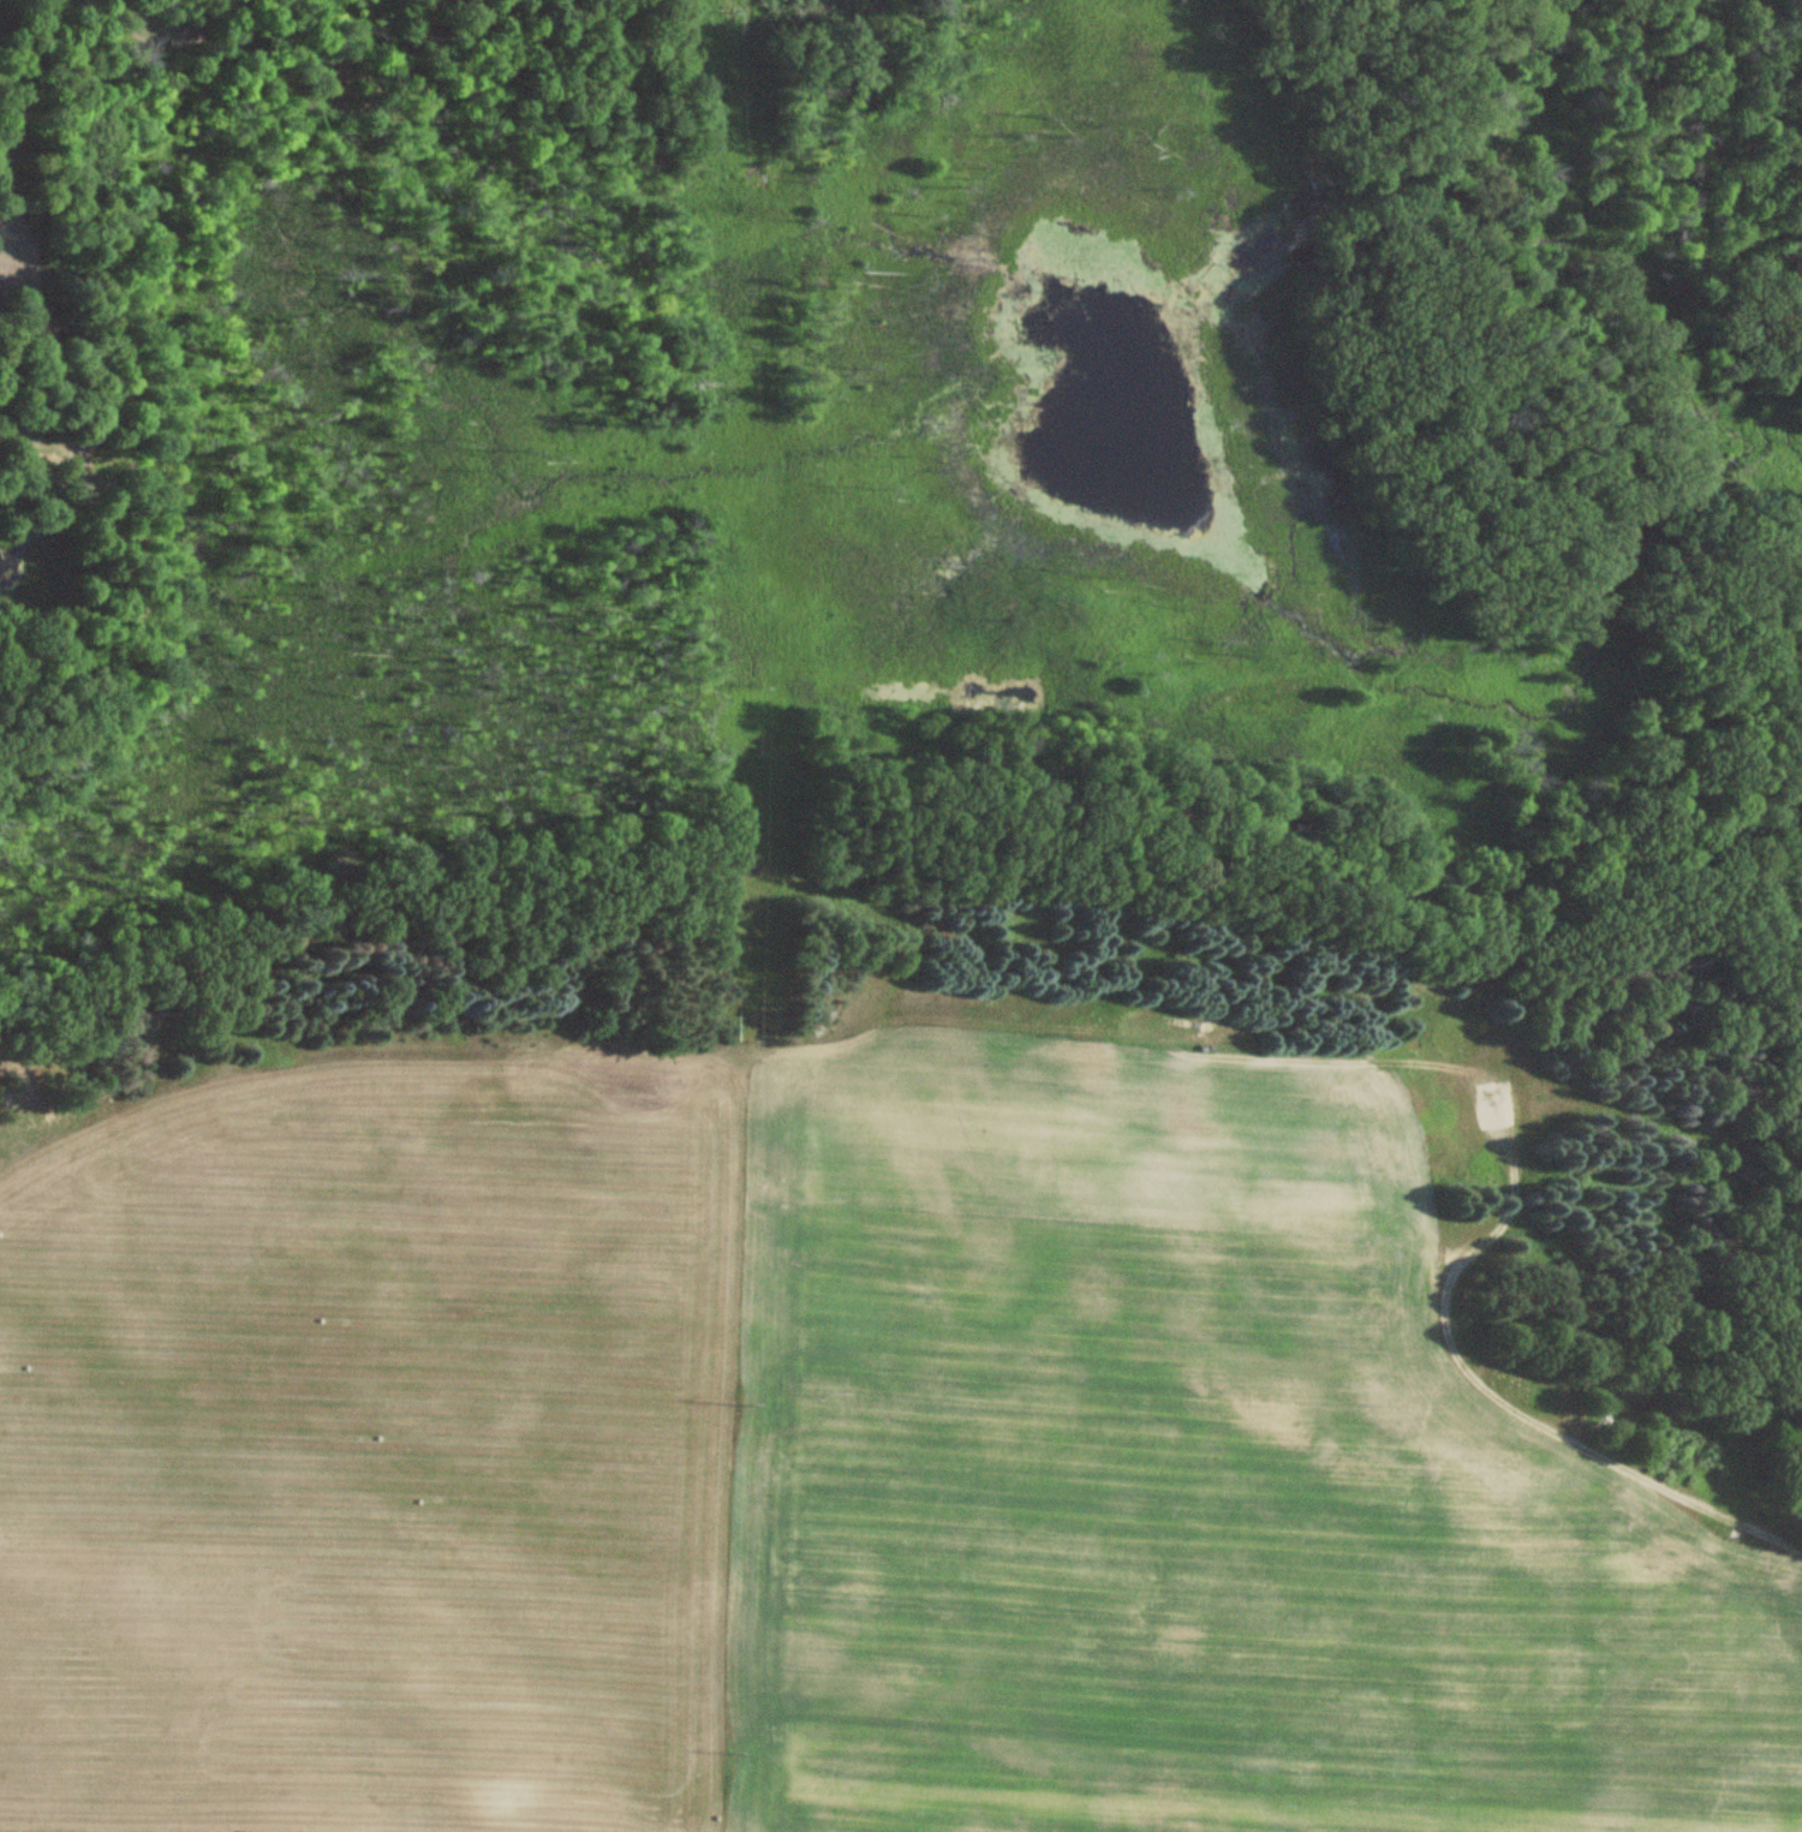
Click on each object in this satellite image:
road: (1588, 1350)

